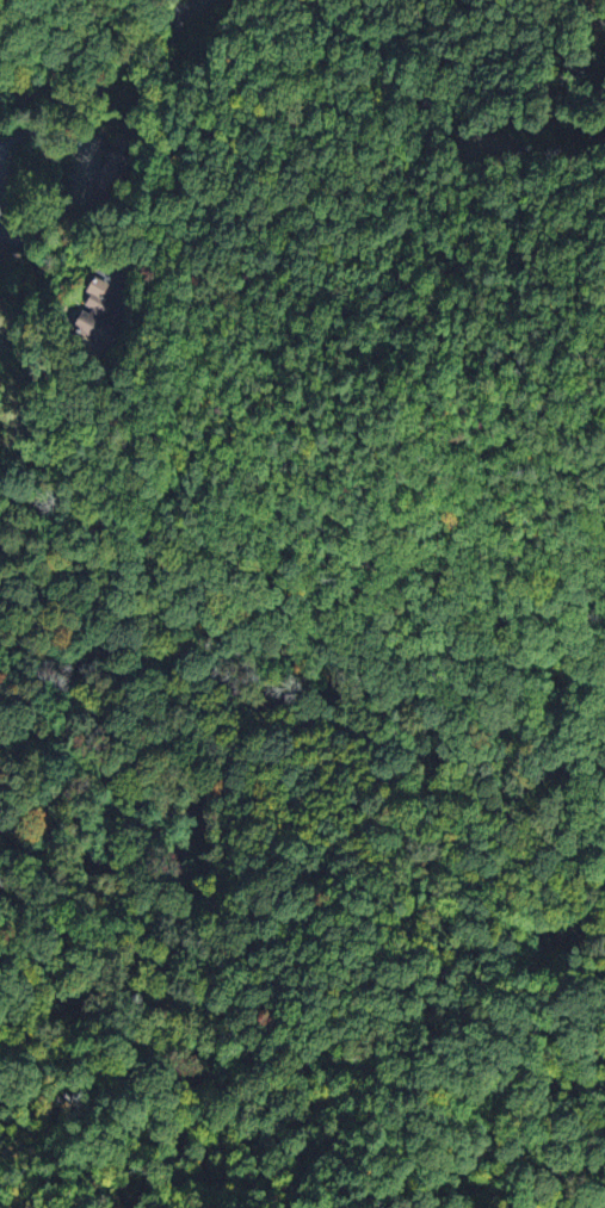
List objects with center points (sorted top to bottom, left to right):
road: (187, 5)
road: (175, 35)
building: (112, 163)
road: (10, 237)
building: (92, 315)

